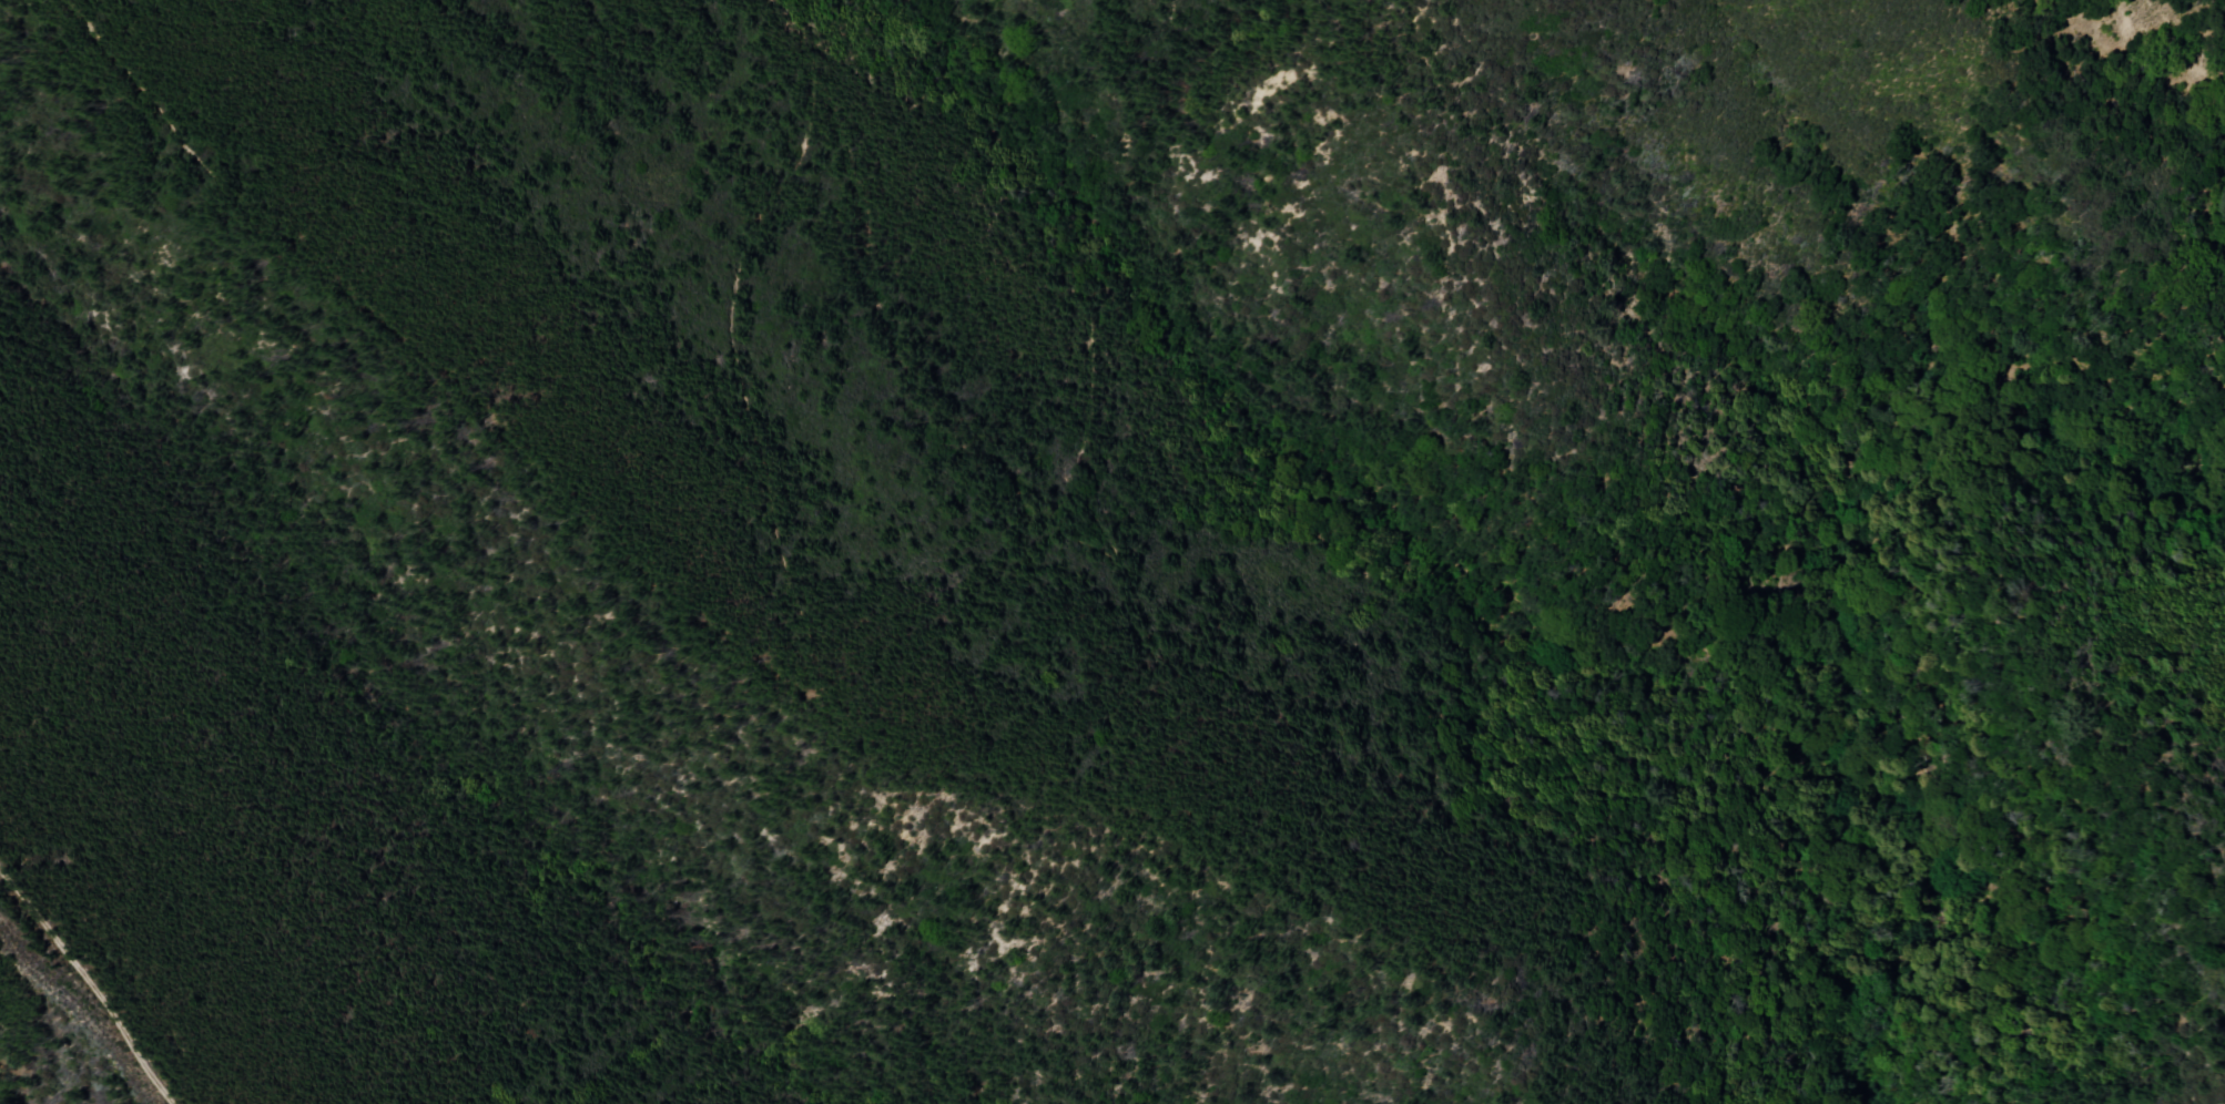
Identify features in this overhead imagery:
road: (977, 482)
road: (90, 988)

